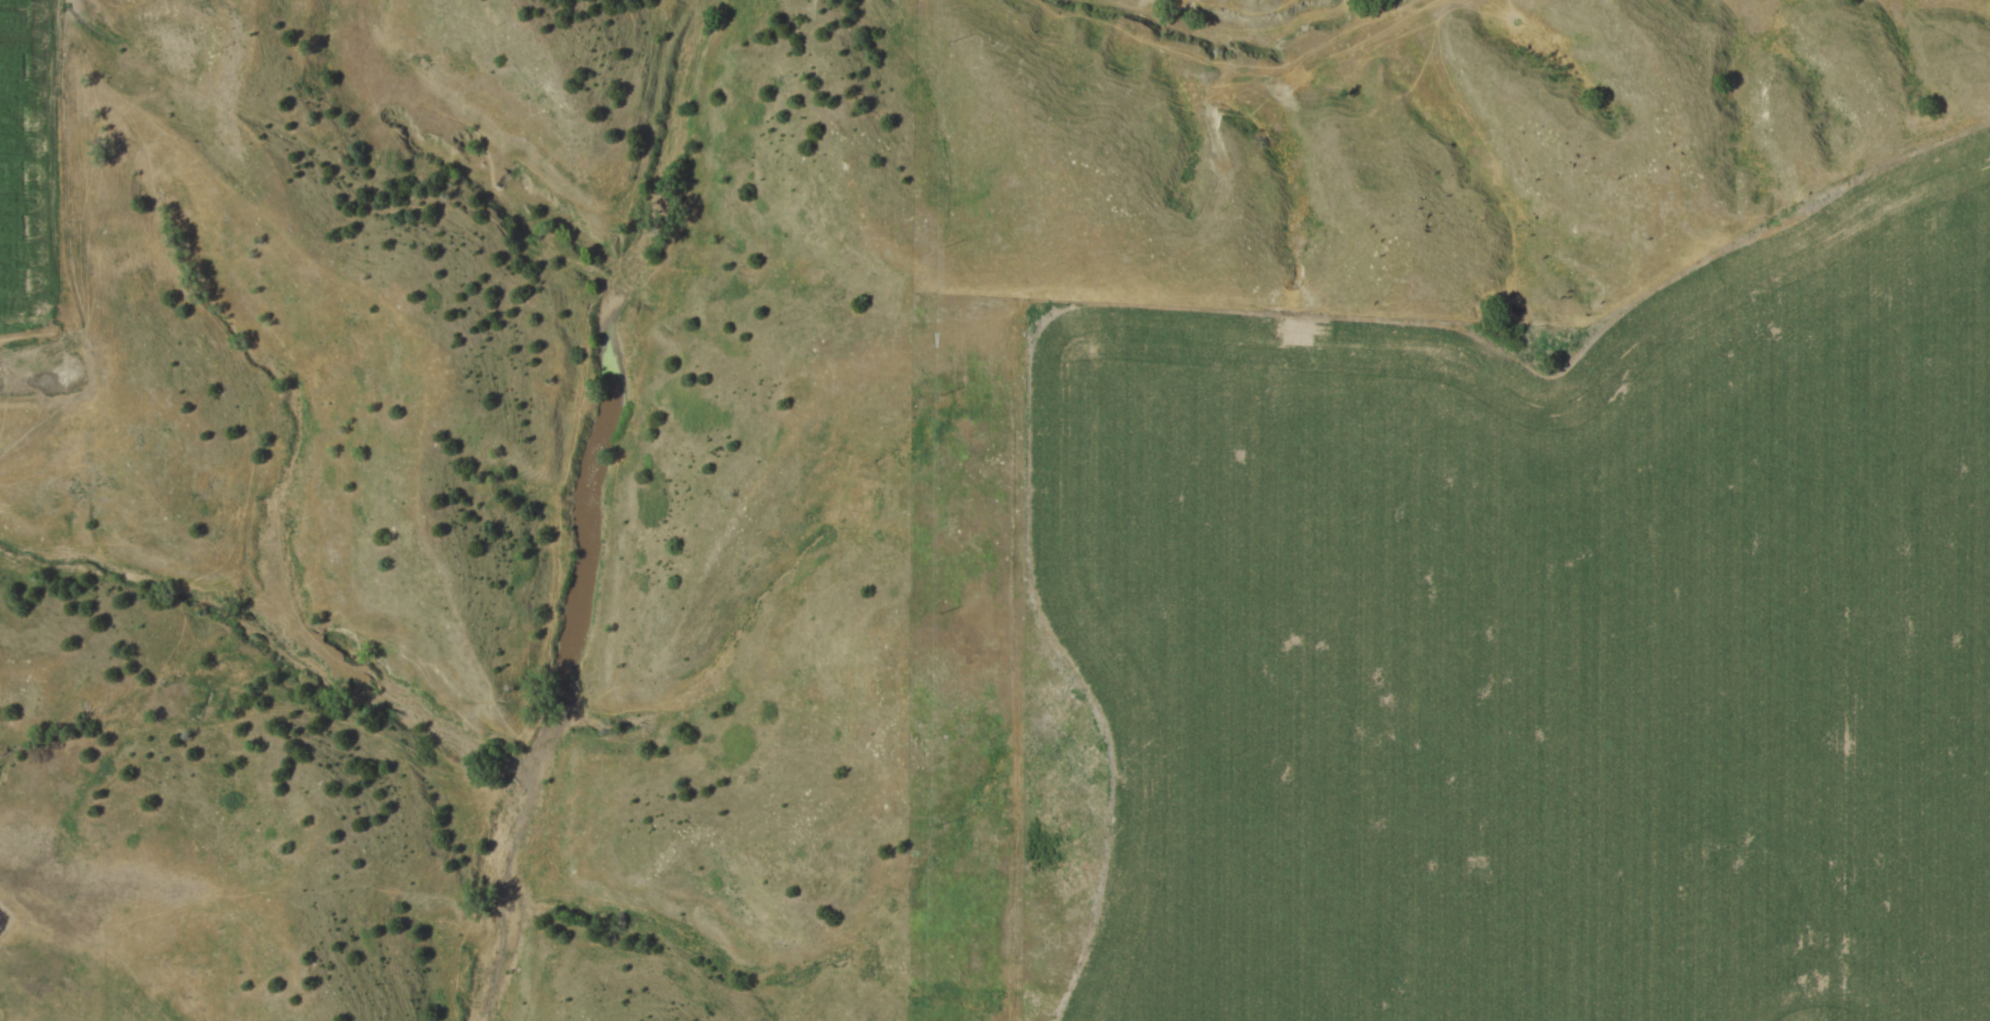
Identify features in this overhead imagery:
crop: (1544, 640)

